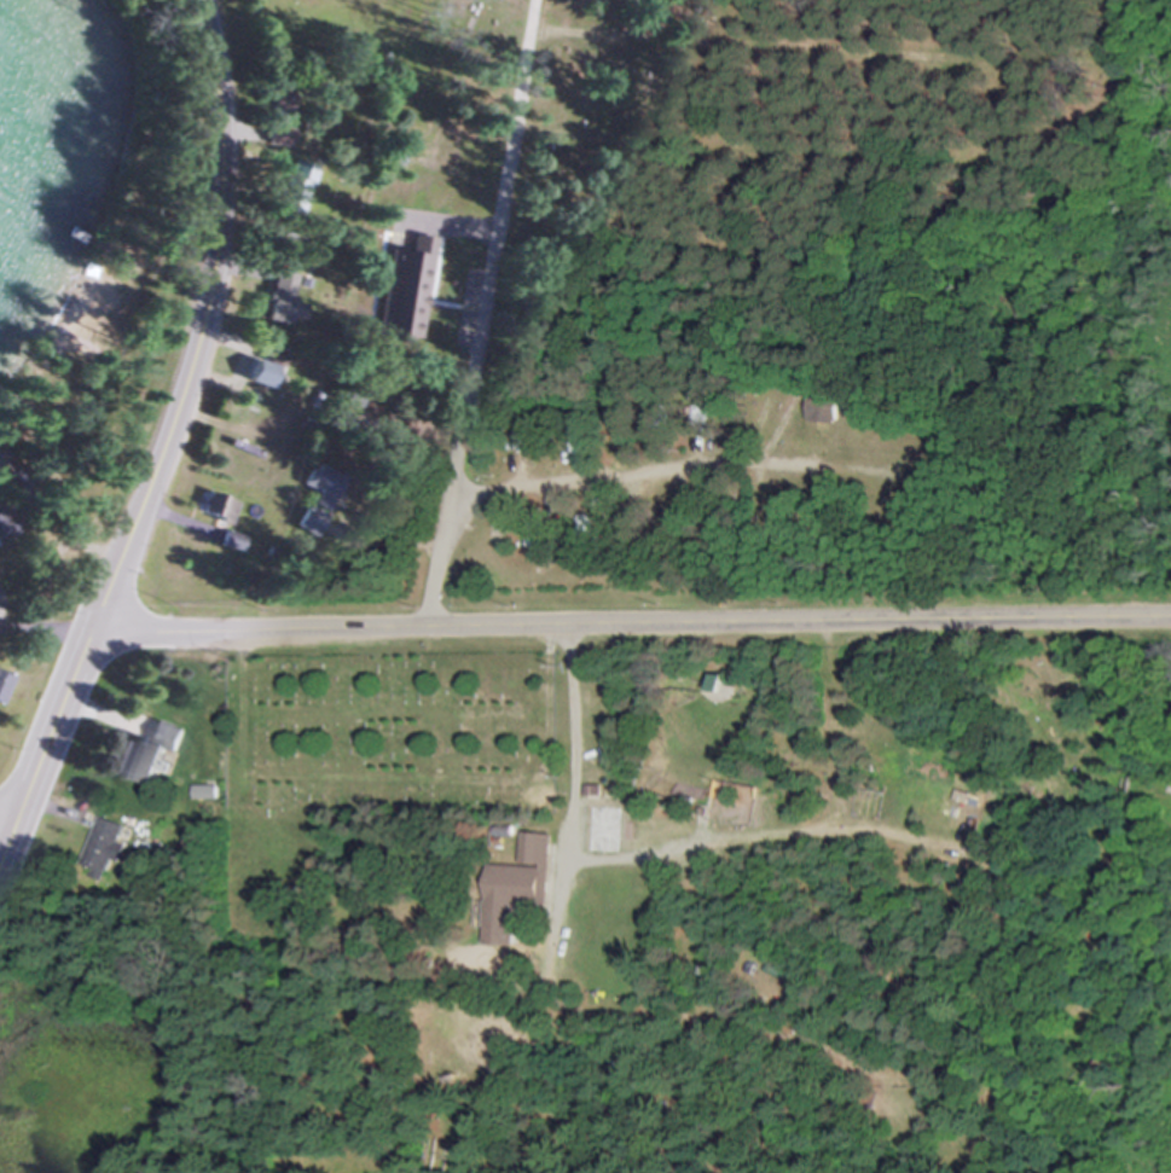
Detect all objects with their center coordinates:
building: (440, 140)
building: (454, 214)
building: (389, 261)
building: (279, 300)
road: (473, 315)
building: (262, 366)
building: (821, 410)
road: (161, 437)
building: (521, 439)
road: (624, 470)
building: (11, 480)
building: (315, 497)
building: (214, 507)
building: (5, 525)
road: (628, 629)
road: (42, 631)
building: (2, 680)
park: (384, 733)
road: (569, 743)
building: (146, 753)
building: (972, 800)
road: (7, 818)
building: (99, 849)
building: (511, 888)
building: (711, 974)

